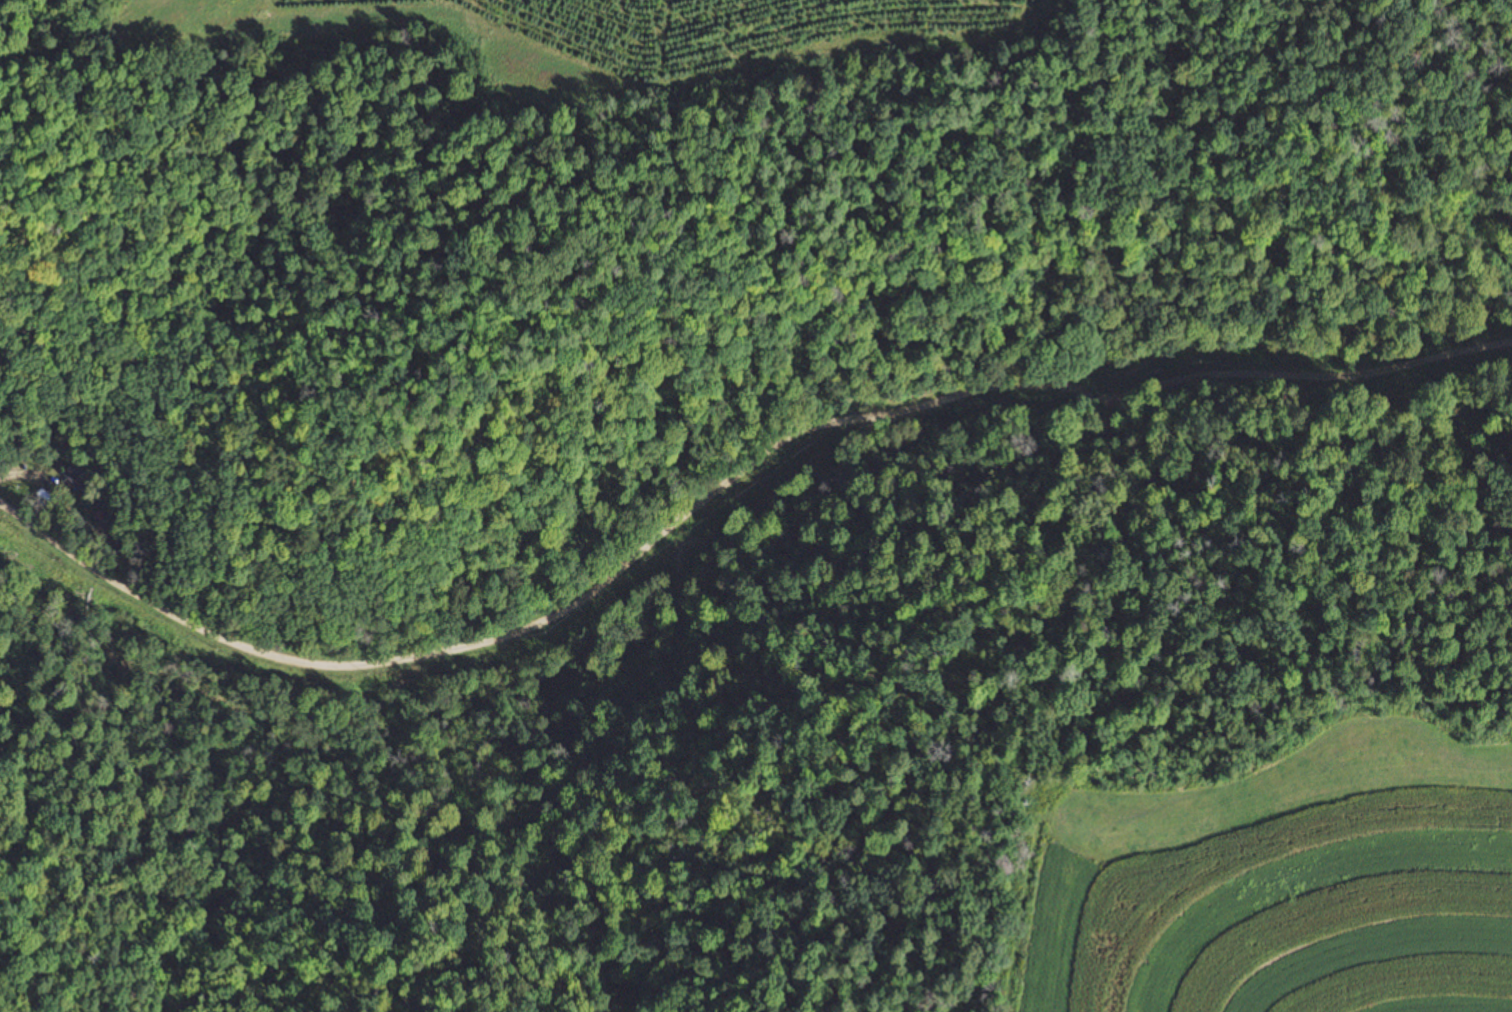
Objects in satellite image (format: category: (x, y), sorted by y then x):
road: (1178, 340)
road: (719, 433)
building: (81, 476)

